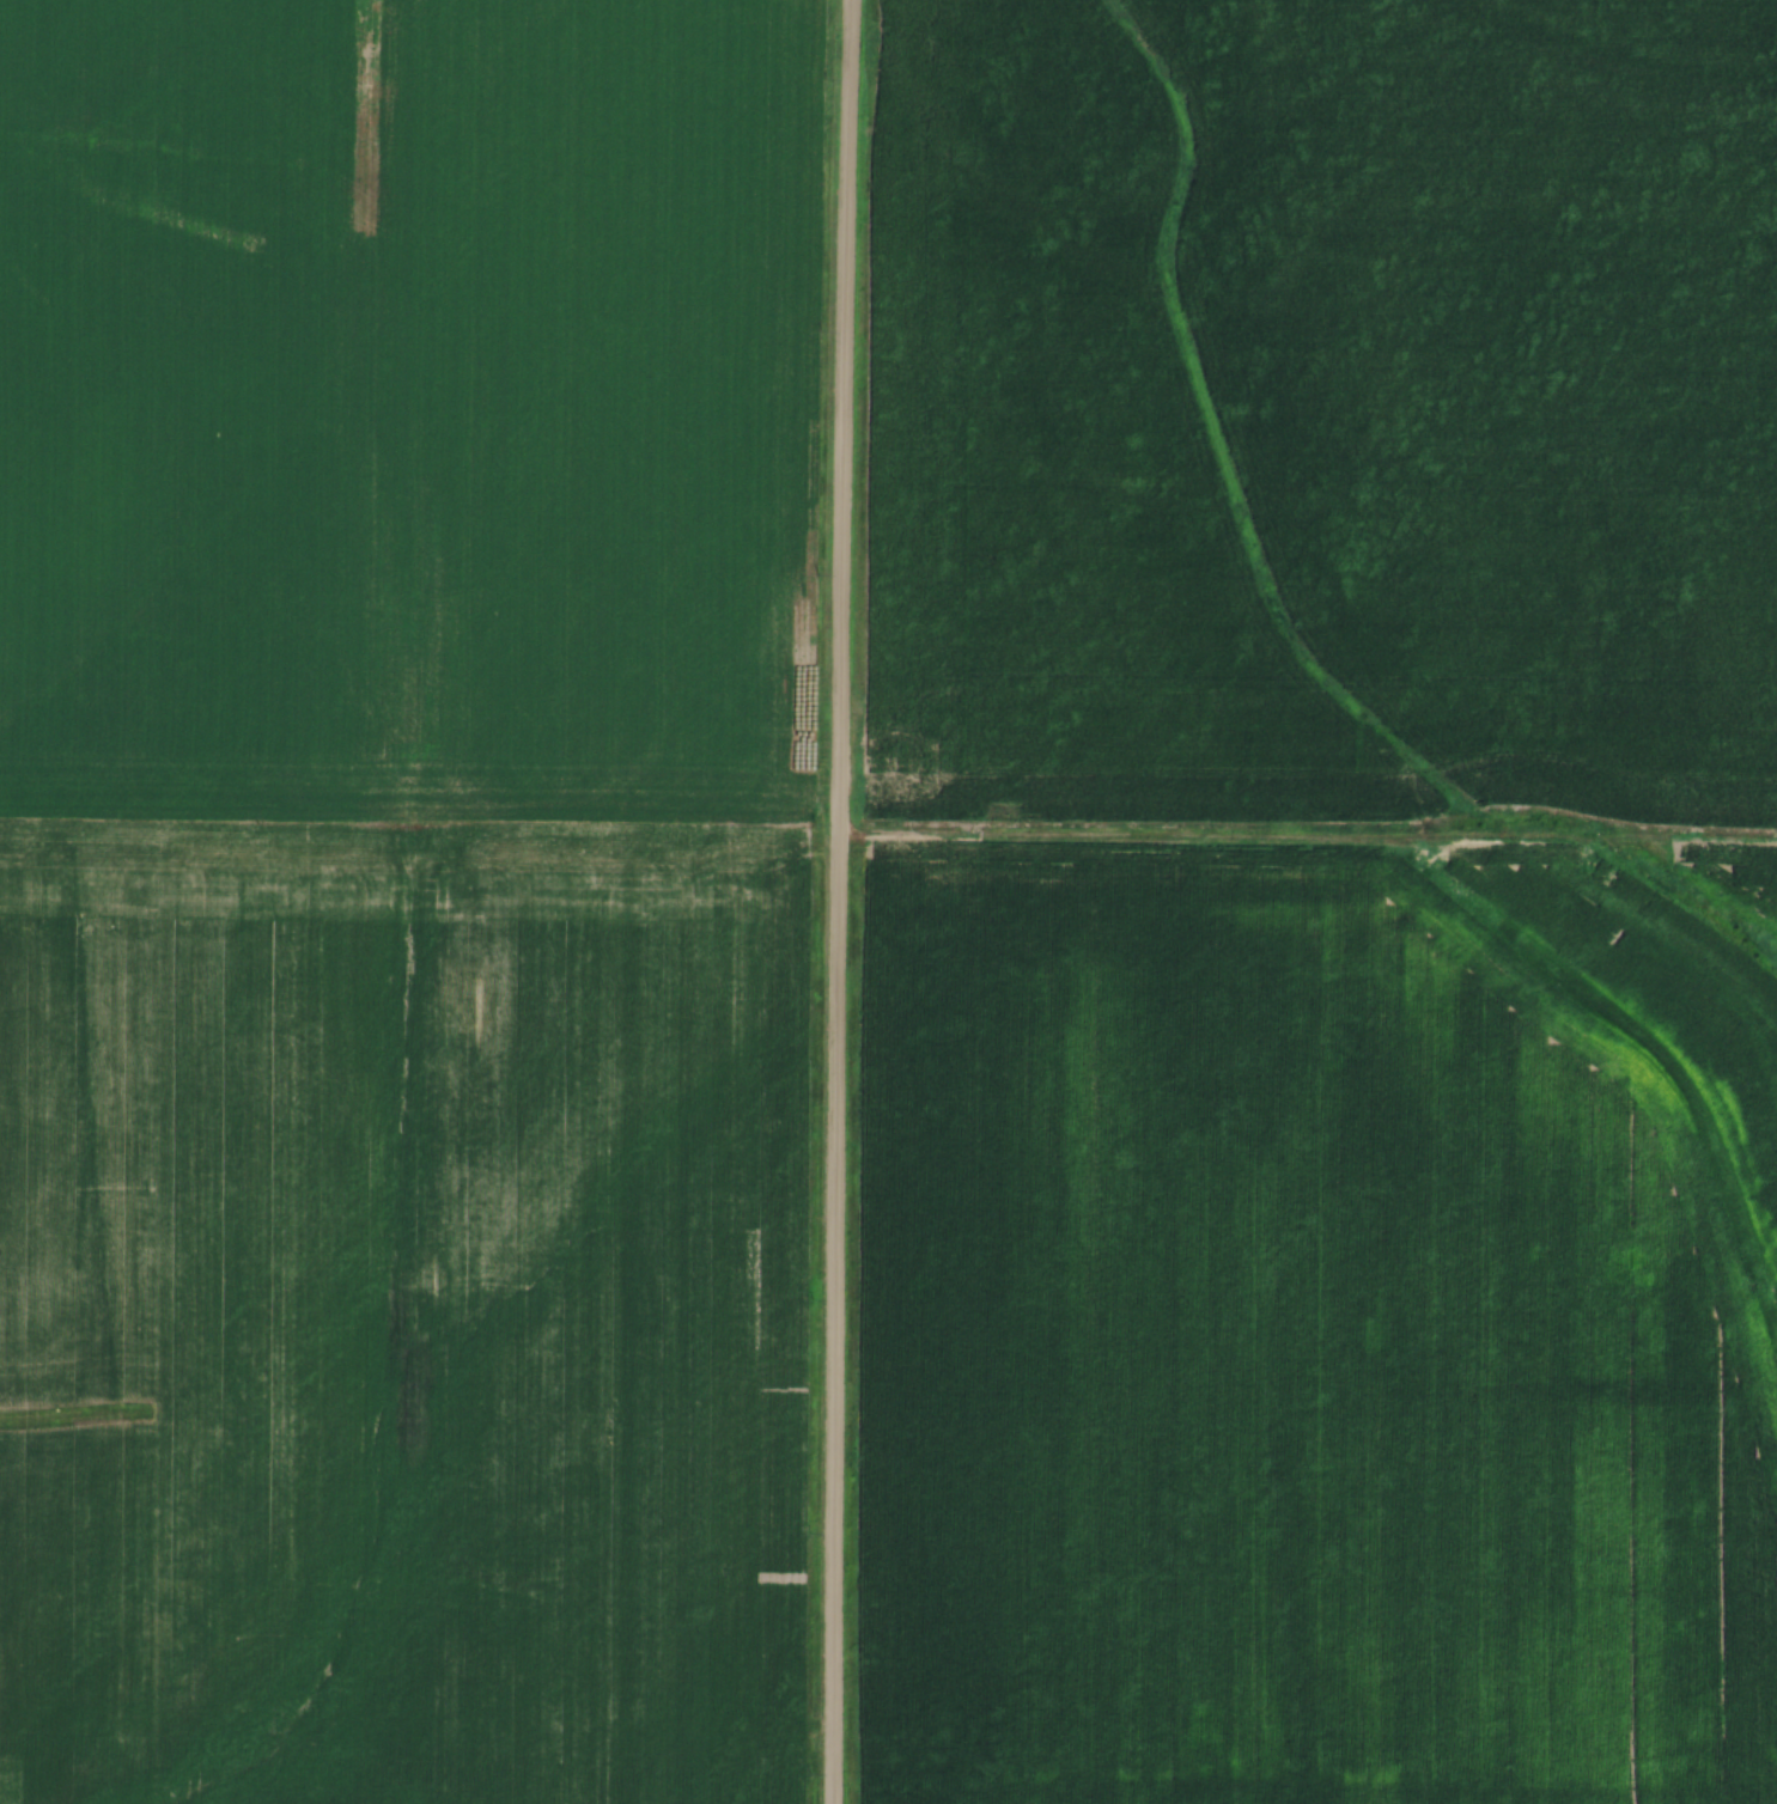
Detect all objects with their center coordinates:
road: (835, 901)

